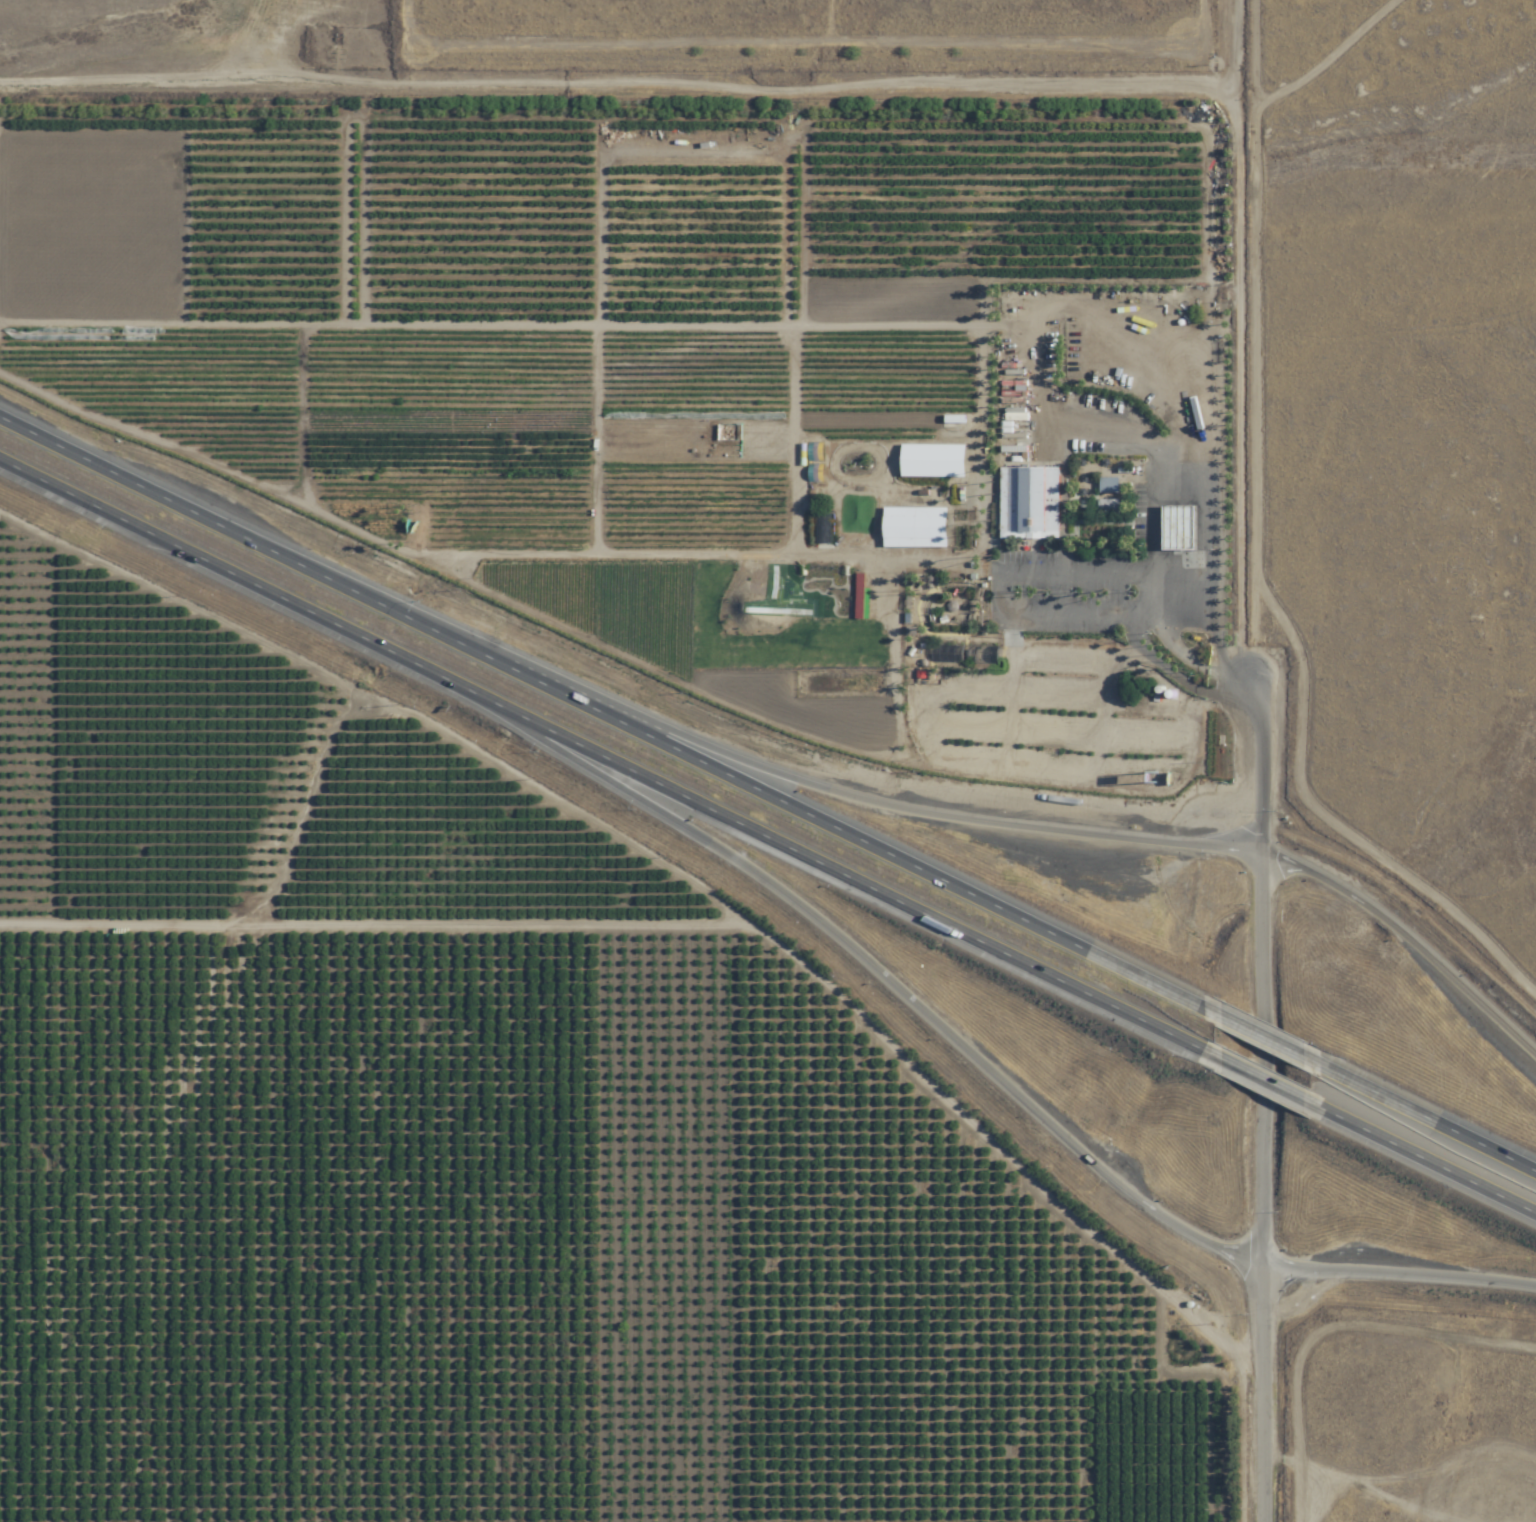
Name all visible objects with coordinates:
building: (1003, 356)
road: (1386, 417)
road: (1236, 427)
building: (1106, 485)
building: (1025, 507)
building: (816, 531)
road: (1140, 572)
parking lot: (1065, 595)
road: (1130, 618)
road: (1182, 660)
road: (1174, 676)
road: (603, 707)
road: (604, 760)
road: (953, 815)
crop: (528, 831)
road: (1405, 934)
road: (885, 981)
road: (1258, 1031)
road: (1262, 1081)
road: (1425, 1114)
road: (1427, 1161)
road: (1263, 1187)
road: (1400, 1275)
wastewater plant: (1153, 1335)

